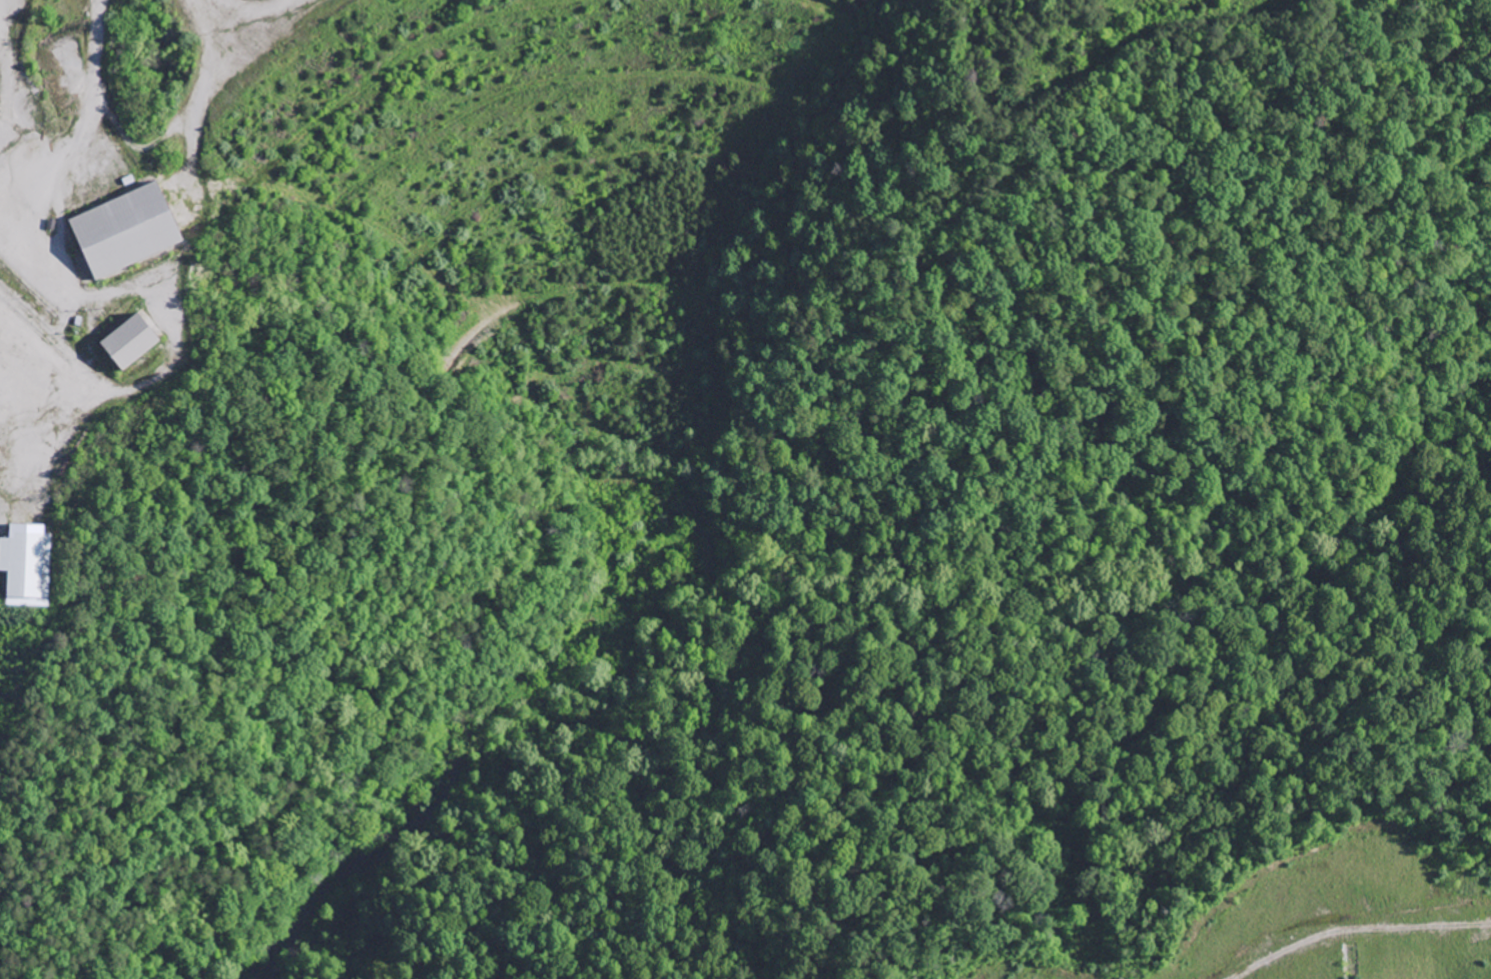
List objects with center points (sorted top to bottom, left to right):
building: (132, 230)
building: (136, 341)
building: (29, 565)

